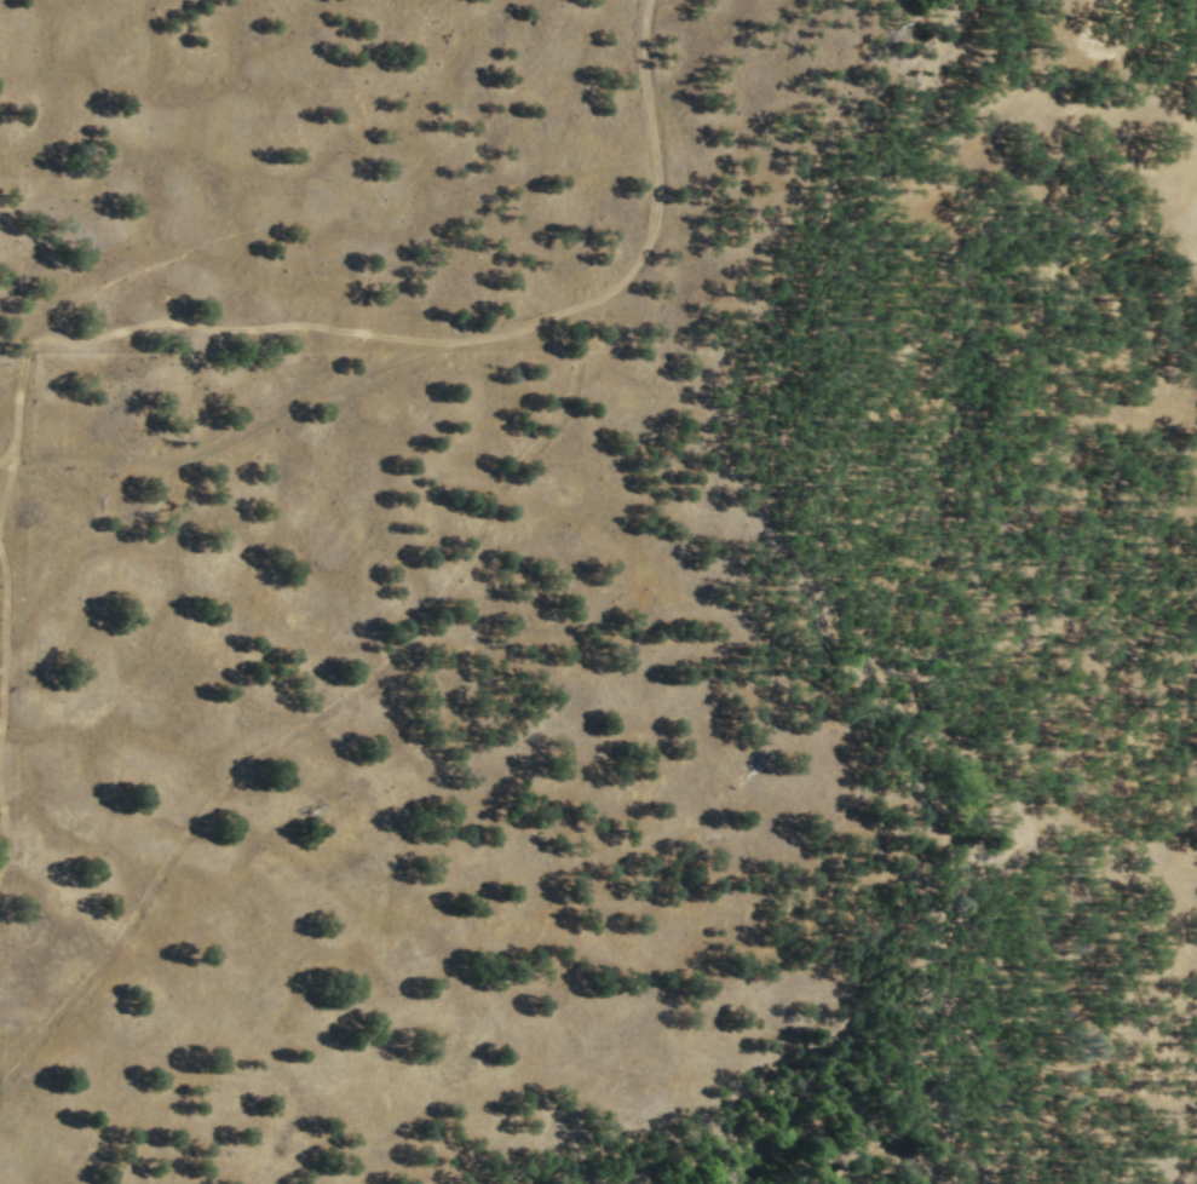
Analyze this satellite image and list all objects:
road: (648, 235)
road: (236, 429)
road: (6, 456)
road: (7, 484)
road: (6, 642)
road: (2, 823)

